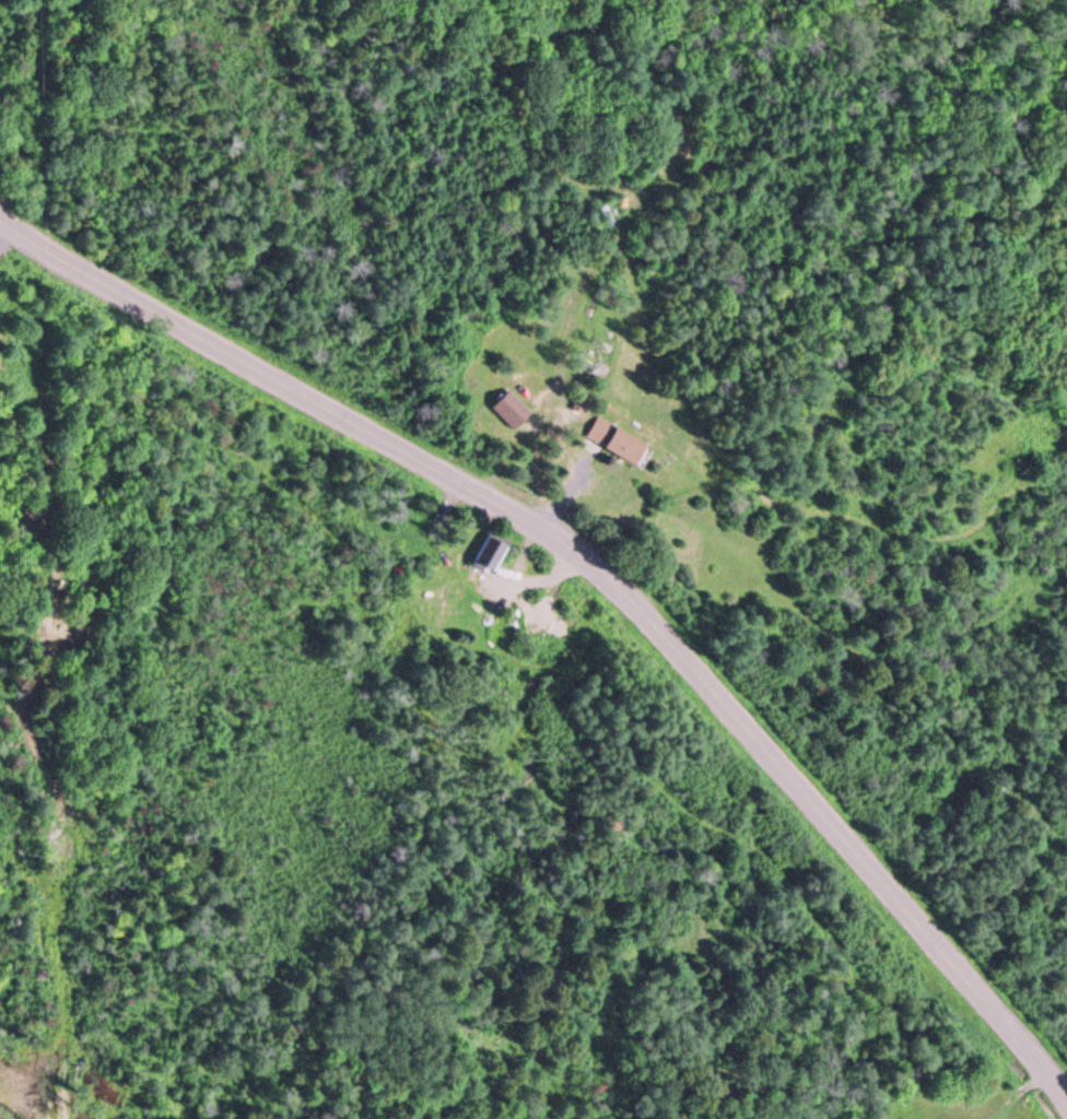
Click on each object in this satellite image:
building: (508, 410)
building: (614, 440)
building: (488, 552)
road: (602, 561)

